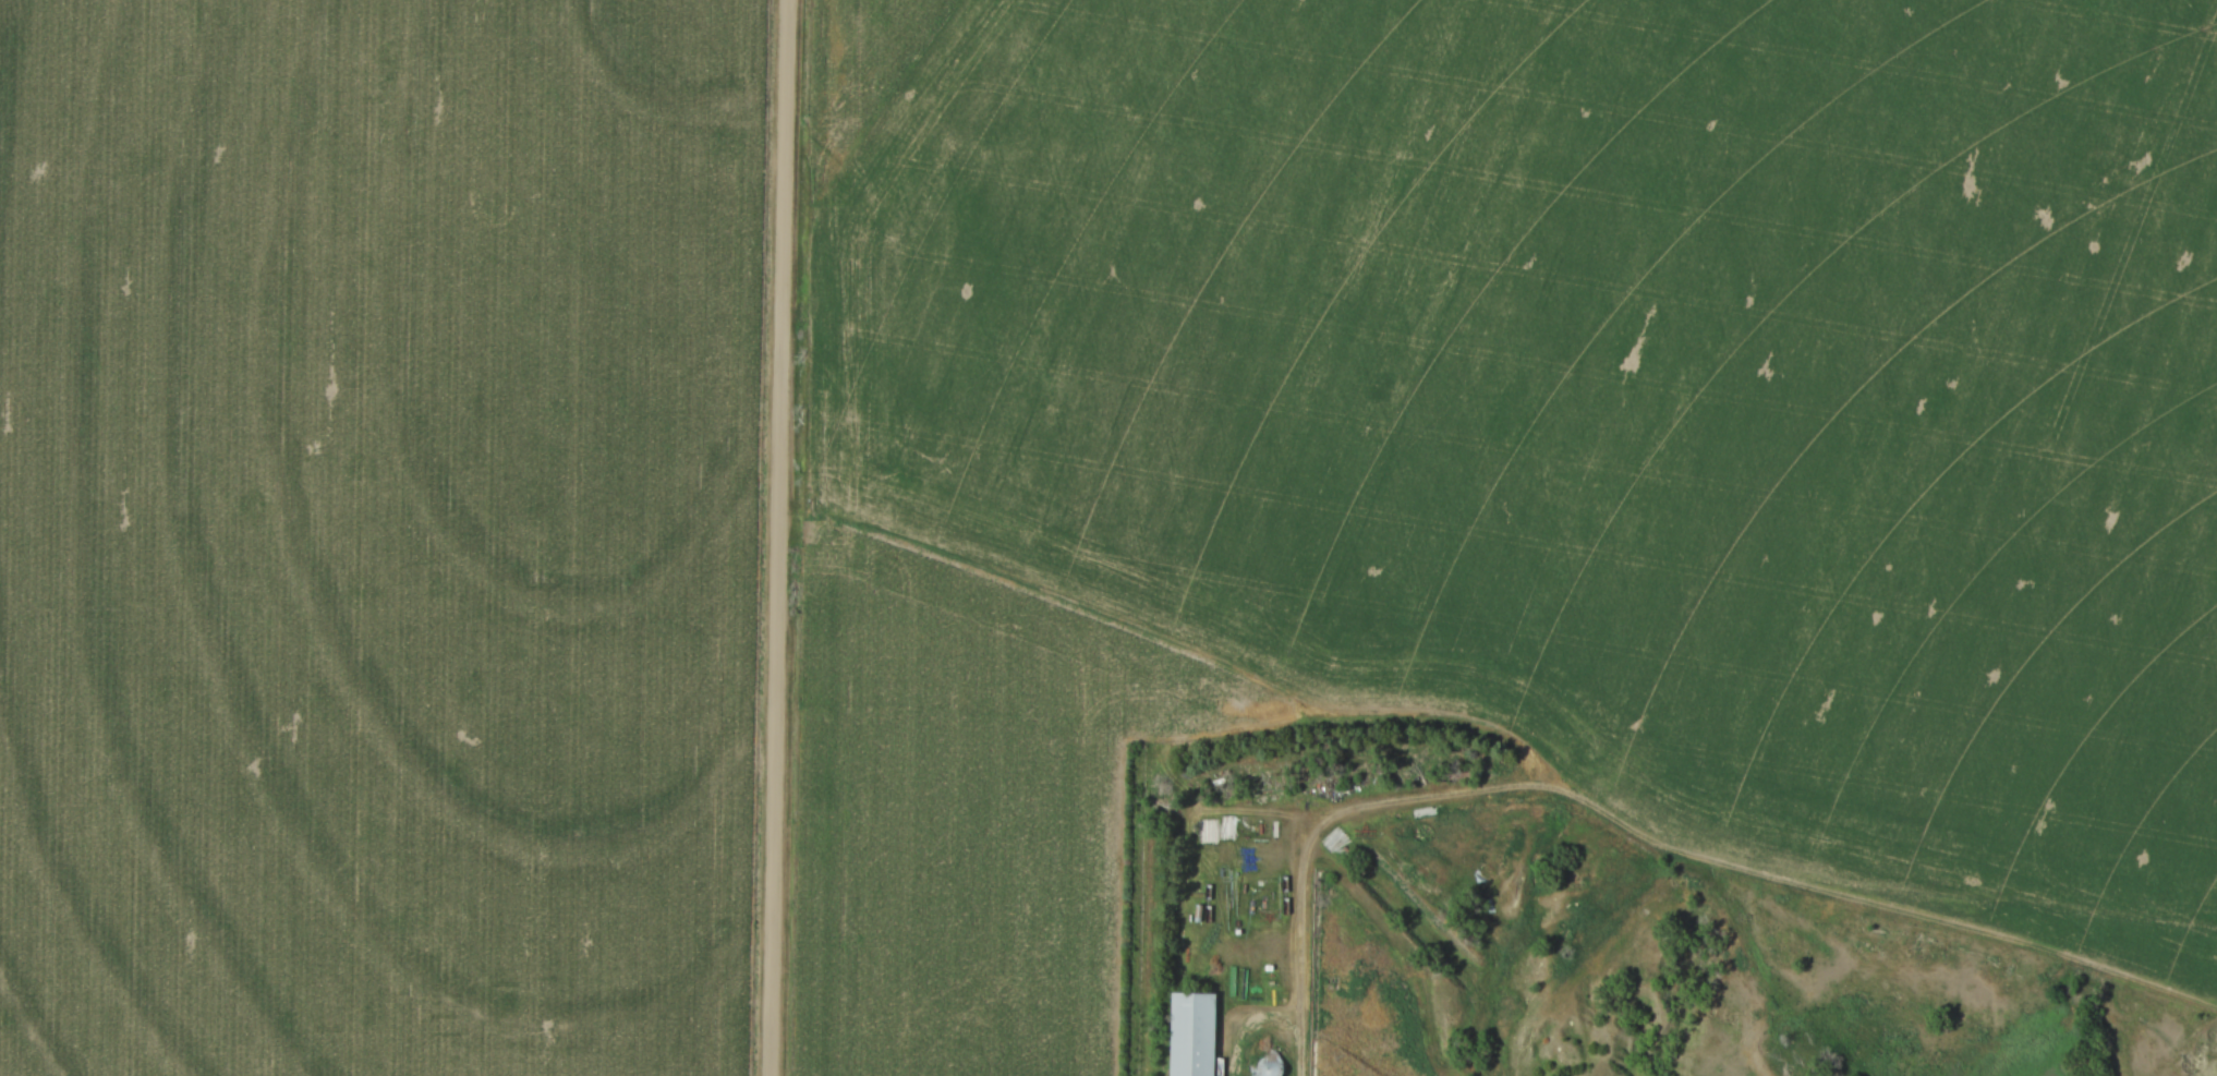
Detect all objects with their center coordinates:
crop: (377, 535)
road: (778, 537)
crop: (964, 813)
building: (1207, 831)
building: (1192, 1031)

